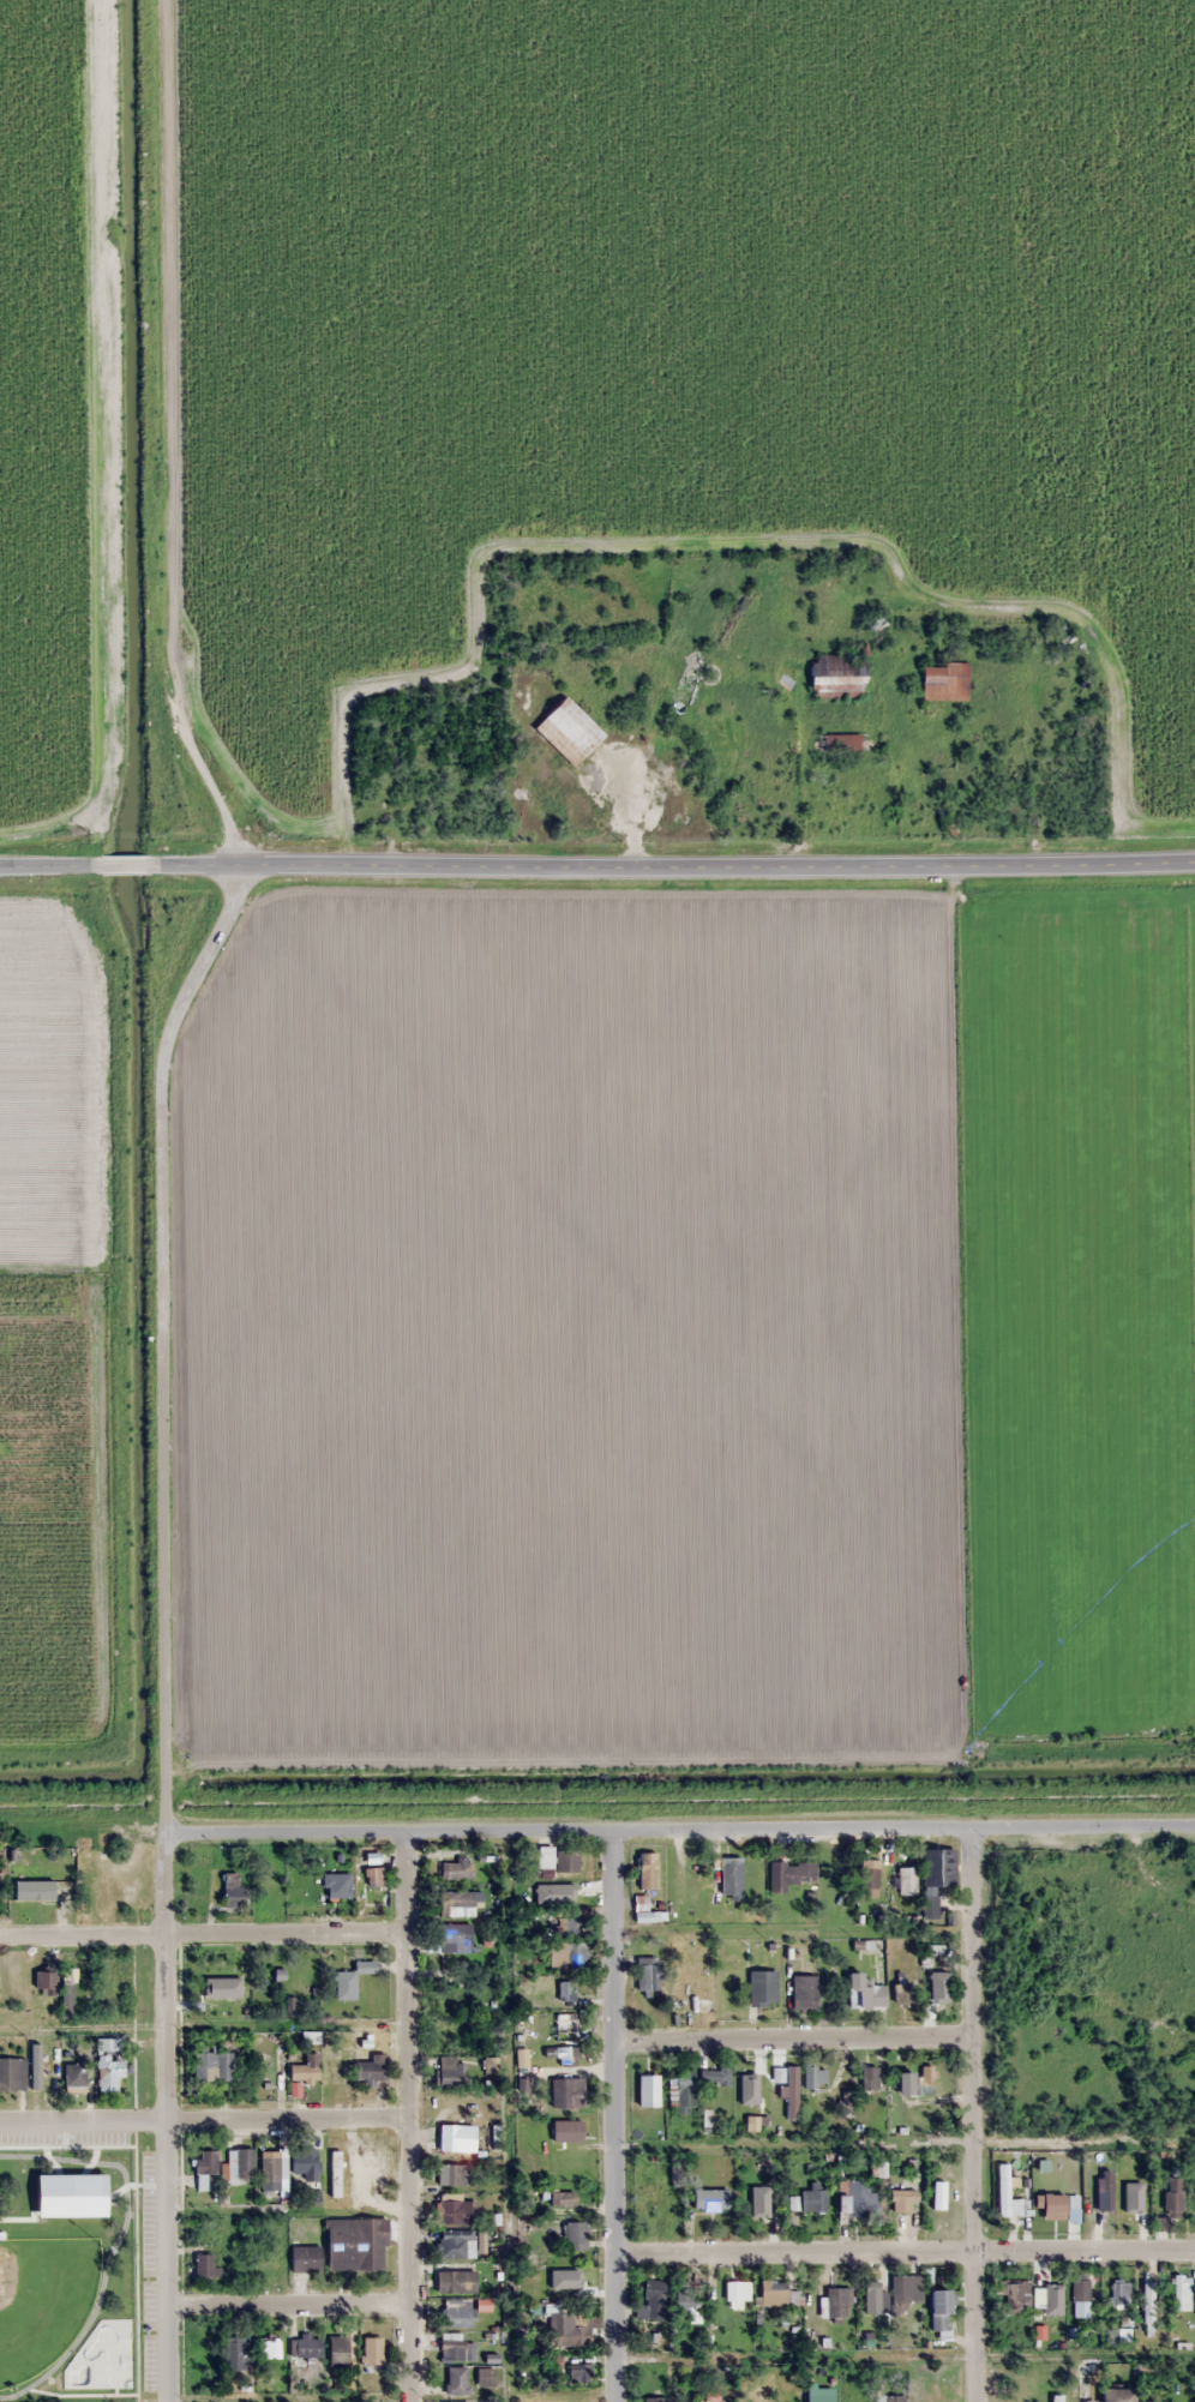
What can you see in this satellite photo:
road: (166, 440)
building: (1065, 643)
building: (835, 675)
building: (943, 681)
building: (568, 729)
building: (842, 743)
road: (675, 863)
road: (48, 867)
road: (127, 869)
road: (162, 1340)
road: (679, 1831)
building: (557, 1858)
building: (456, 1867)
building: (937, 1867)
building: (645, 1869)
building: (787, 1873)
building: (265, 1876)
building: (725, 1876)
building: (866, 1878)
building: (906, 1880)
building: (335, 1885)
building: (678, 1890)
building: (104, 1891)
building: (230, 1891)
building: (569, 1891)
building: (28, 1897)
building: (458, 1898)
building: (929, 1905)
building: (570, 1923)
road: (202, 1935)
building: (454, 1936)
building: (572, 1954)
building: (647, 1970)
building: (229, 1981)
building: (681, 1983)
building: (344, 1984)
building: (761, 1987)
building: (803, 1992)
building: (66, 1993)
building: (863, 1993)
building: (901, 1994)
building: (932, 1994)
building: (564, 2026)
building: (454, 2032)
road: (792, 2042)
building: (560, 2055)
building: (108, 2064)
building: (211, 2066)
building: (331, 2066)
building: (304, 2070)
building: (370, 2070)
building: (450, 2072)
building: (12, 2074)
building: (73, 2074)
building: (867, 2078)
building: (749, 2079)
building: (812, 2080)
building: (695, 2084)
building: (920, 2084)
building: (565, 2092)
building: (791, 2092)
road: (972, 2114)
road: (407, 2115)
road: (164, 2116)
road: (614, 2116)
road: (204, 2124)
building: (565, 2130)
building: (238, 2163)
building: (203, 2168)
building: (306, 2169)
building: (270, 2170)
building: (334, 2173)
building: (449, 2174)
building: (70, 2185)
building: (1004, 2193)
building: (852, 2196)
building: (932, 2197)
building: (651, 2198)
building: (570, 2199)
building: (709, 2199)
building: (807, 2200)
building: (903, 2200)
building: (1170, 2200)
building: (1129, 2206)
building: (452, 2209)
building: (755, 2209)
building: (572, 2236)
building: (354, 2244)
building: (455, 2245)
road: (906, 2253)
building: (304, 2258)
building: (203, 2265)
park: (66, 2268)
building: (454, 2281)
building: (570, 2283)
building: (905, 2289)
building: (733, 2290)
building: (776, 2293)
building: (1047, 2293)
building: (1116, 2293)
building: (1181, 2293)
building: (1015, 2295)
building: (1079, 2296)
building: (872, 2298)
building: (651, 2301)
building: (833, 2301)
building: (687, 2304)
road: (288, 2306)
building: (937, 2310)
building: (456, 2312)
building: (564, 2330)
building: (306, 2346)
building: (269, 2347)
building: (337, 2348)
building: (203, 2349)
building: (371, 2349)
building: (452, 2349)
park: (103, 2350)
building: (234, 2353)
building: (580, 2372)
building: (484, 2377)
building: (455, 2379)
building: (1074, 2392)
building: (1116, 2395)
building: (818, 2397)
building: (888, 2398)
building: (1055, 2398)
building: (653, 2400)
building: (1153, 2401)

